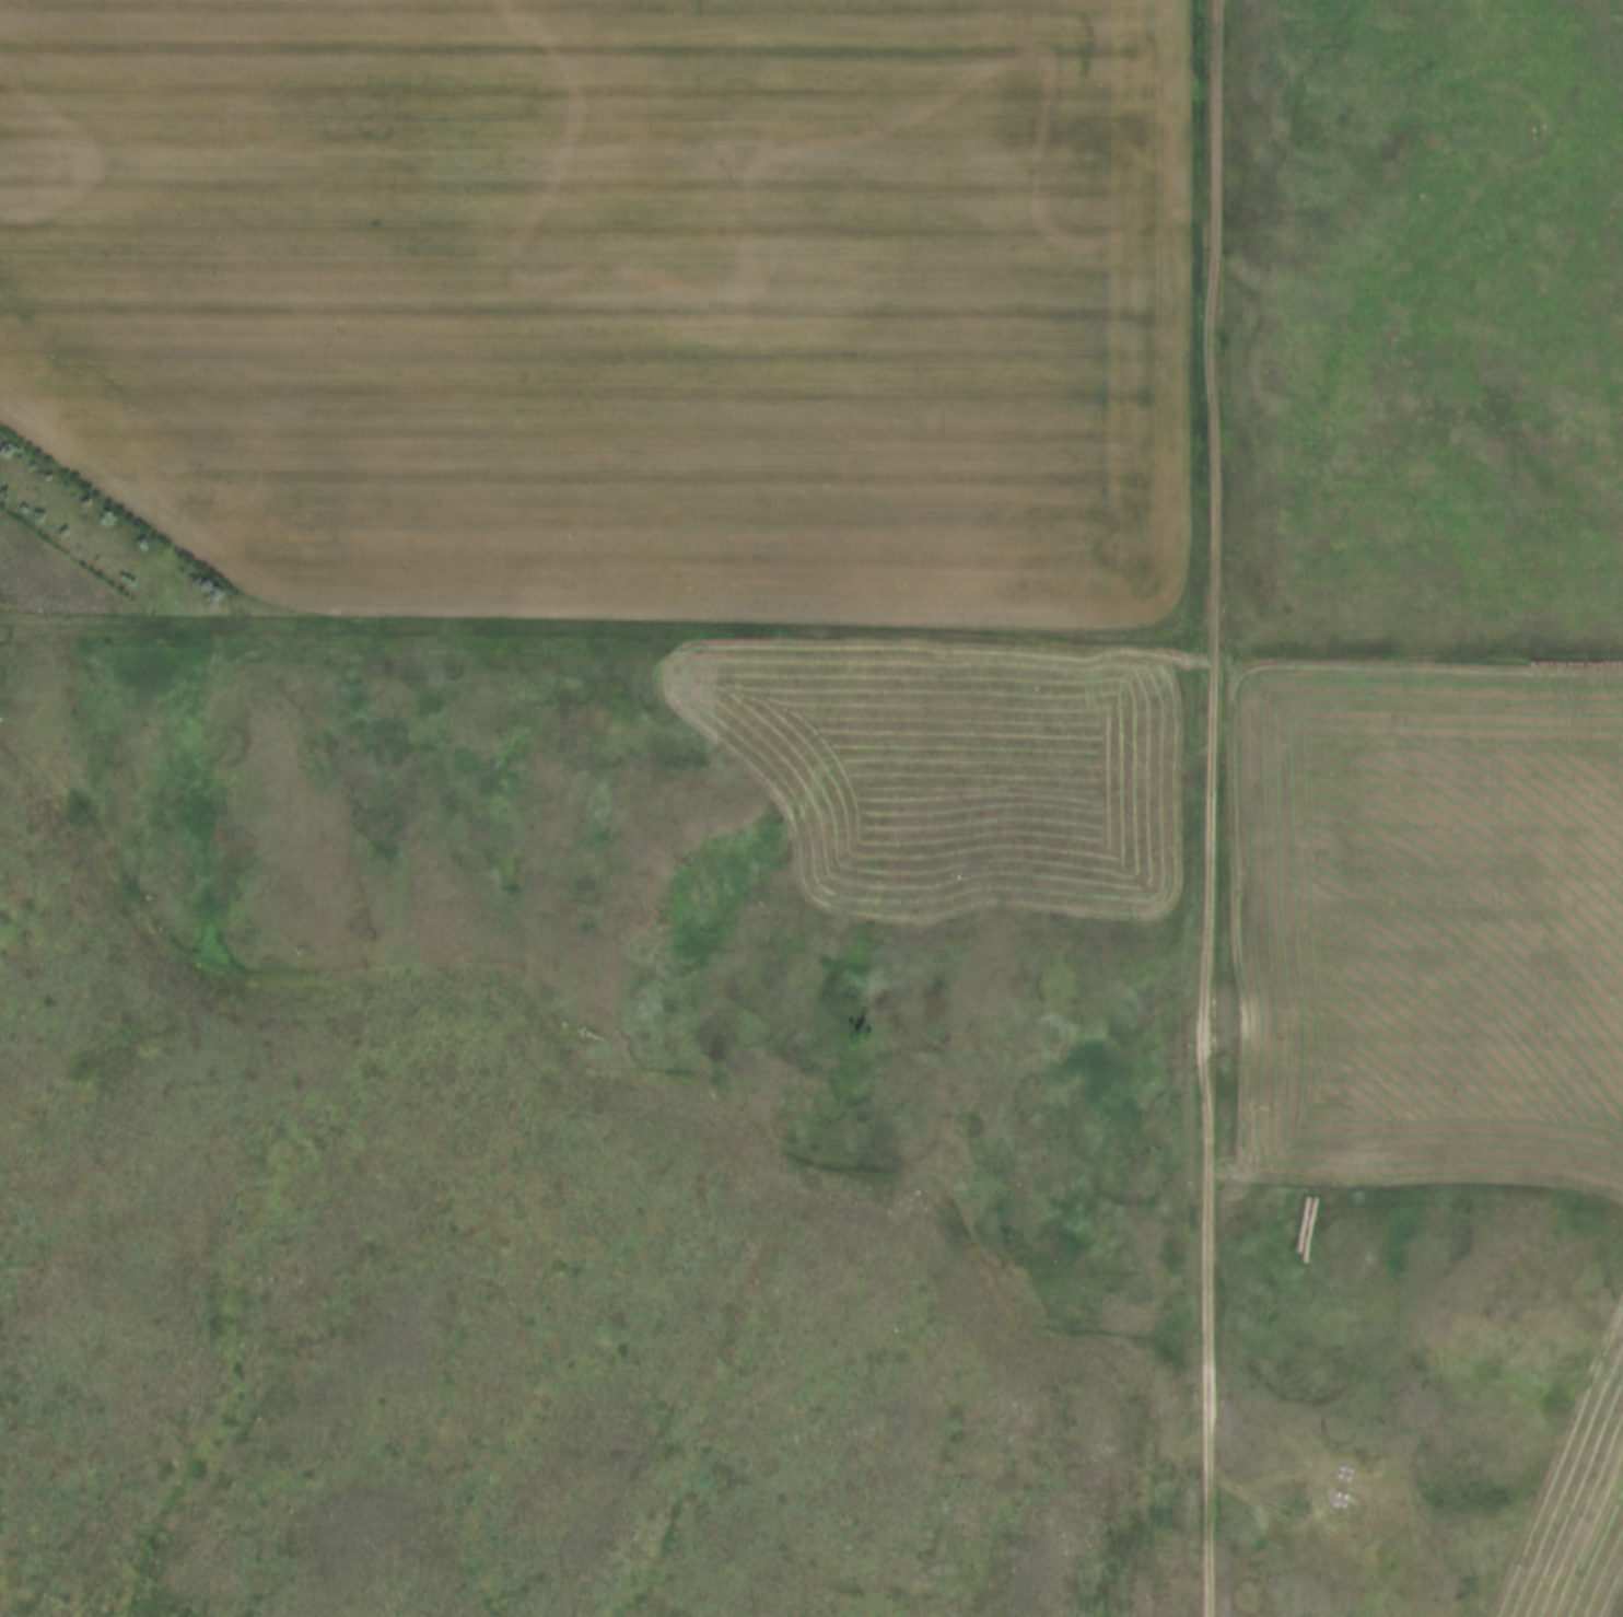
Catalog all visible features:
road: (1207, 807)

